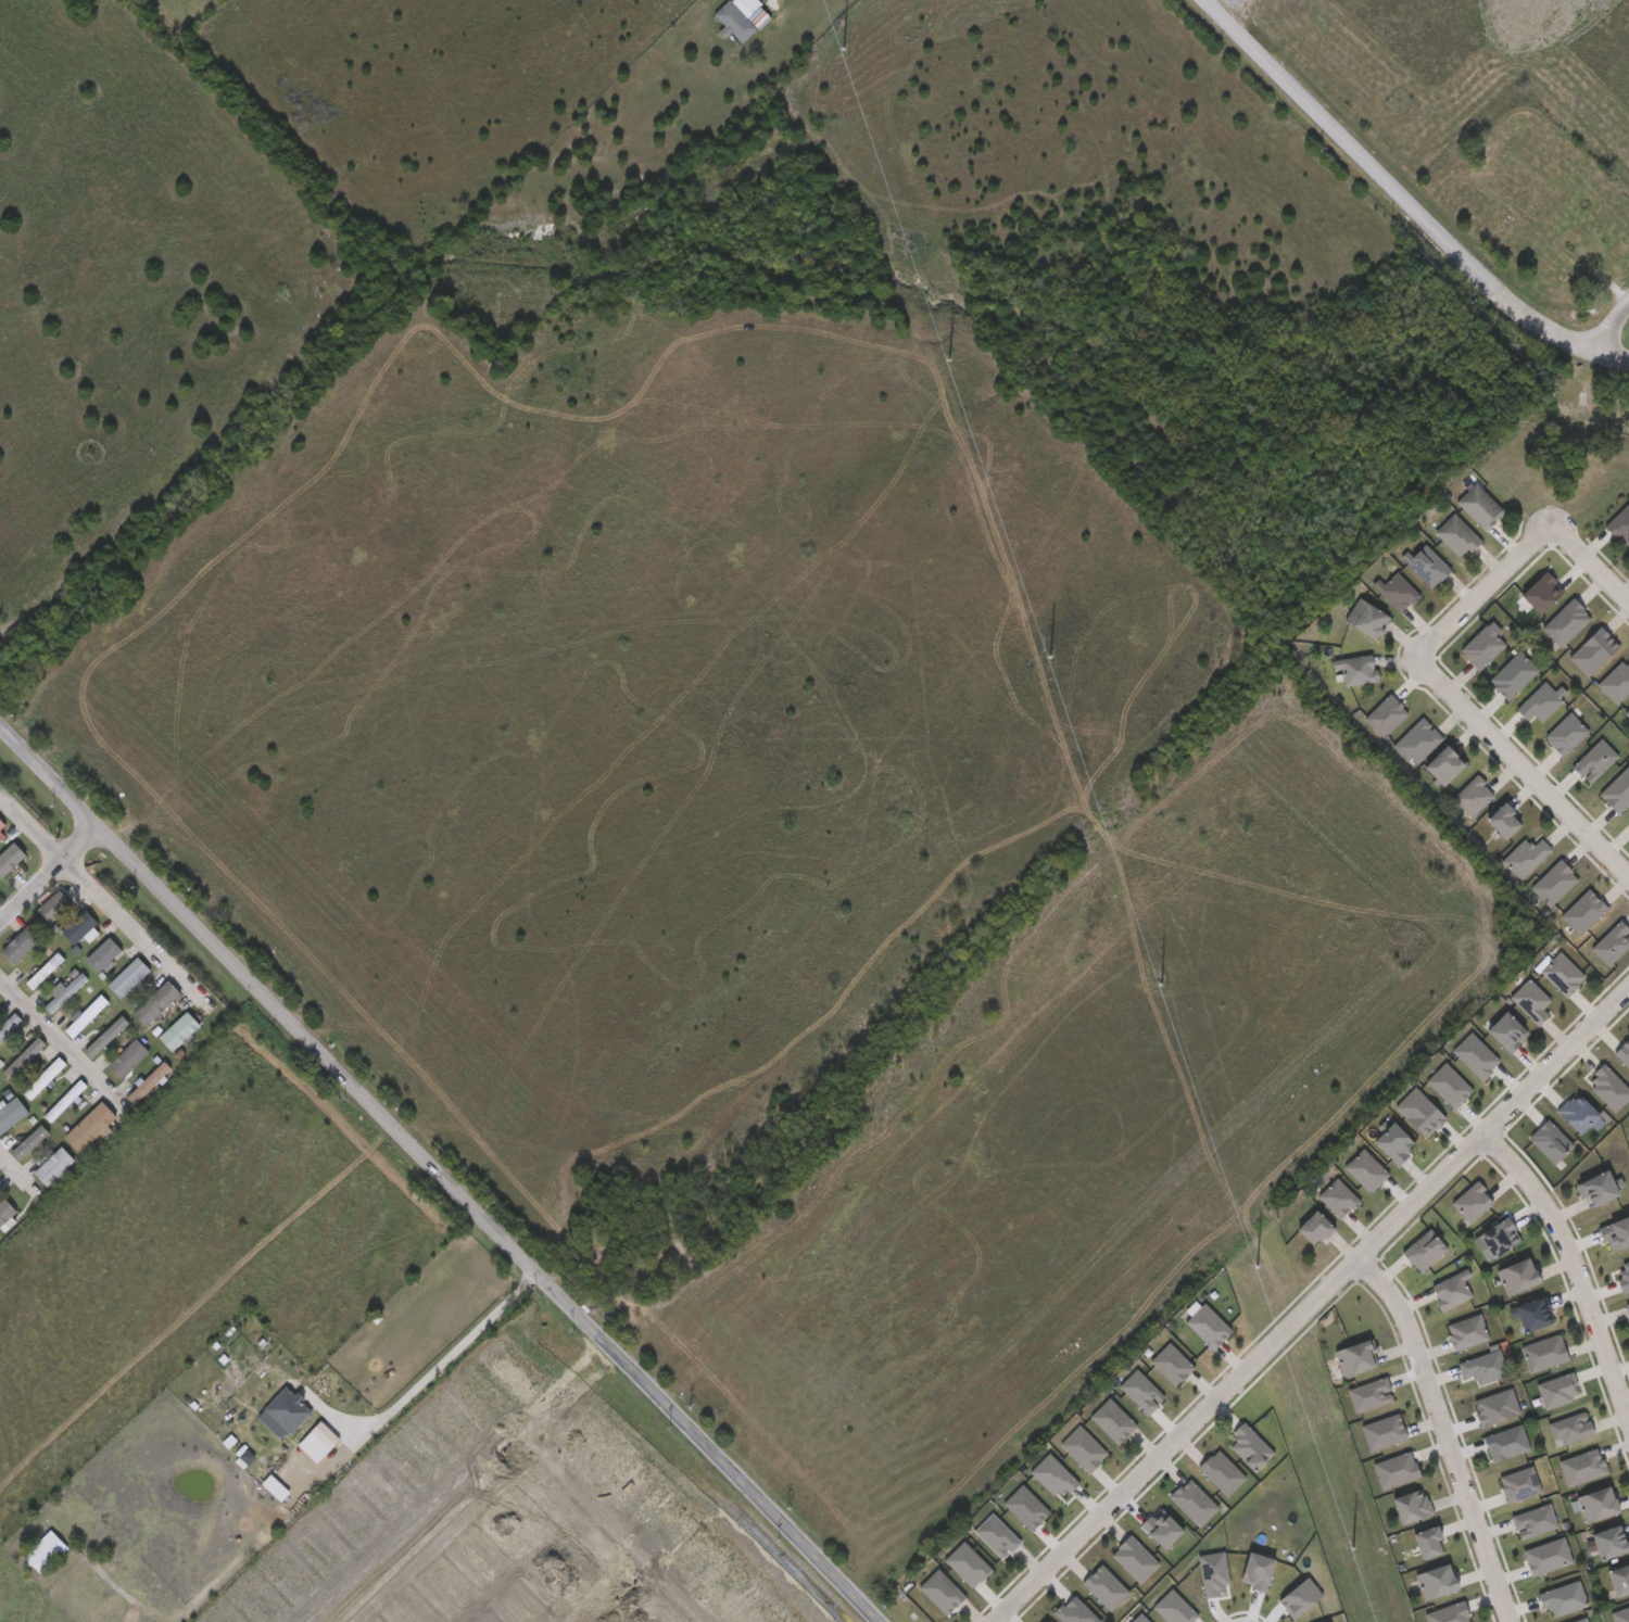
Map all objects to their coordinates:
building: (738, 17)
road: (1387, 186)
road: (1608, 327)
road: (1608, 356)
building: (1479, 505)
building: (1620, 522)
building: (1456, 533)
building: (1427, 563)
road: (1592, 567)
building: (1397, 590)
building: (1540, 591)
road: (1485, 592)
building: (1366, 618)
building: (1567, 622)
building: (1482, 647)
building: (1591, 650)
building: (1356, 668)
building: (1513, 673)
building: (1616, 681)
building: (1541, 700)
building: (1627, 711)
building: (1385, 714)
building: (1628, 717)
building: (1566, 734)
building: (1417, 740)
building: (1596, 759)
building: (1444, 764)
road: (1524, 770)
building: (1620, 787)
building: (1474, 795)
building: (1503, 819)
building: (0, 825)
building: (1, 837)
building: (9, 852)
building: (1525, 856)
road: (48, 874)
building: (1553, 882)
road: (99, 884)
building: (0, 898)
building: (52, 907)
building: (1580, 912)
building: (78, 926)
building: (1612, 942)
building: (18, 945)
building: (101, 955)
building: (36, 972)
building: (1563, 973)
building: (127, 978)
building: (62, 994)
building: (1531, 1000)
building: (0, 1003)
building: (154, 1004)
road: (45, 1013)
building: (85, 1015)
building: (10, 1027)
building: (1506, 1030)
building: (177, 1031)
building: (106, 1037)
building: (1473, 1051)
building: (1624, 1052)
building: (23, 1057)
building: (127, 1059)
building: (45, 1080)
building: (147, 1082)
building: (1447, 1082)
building: (1608, 1086)
building: (66, 1102)
building: (1417, 1108)
building: (1578, 1112)
building: (11, 1115)
building: (89, 1128)
building: (1550, 1140)
building: (1393, 1142)
building: (31, 1145)
road: (10, 1157)
building: (52, 1167)
building: (1366, 1169)
road: (434, 1176)
building: (1596, 1188)
building: (1339, 1198)
building: (1473, 1201)
building: (1314, 1227)
building: (1616, 1232)
building: (1499, 1237)
building: (1424, 1249)
road: (1574, 1267)
building: (1517, 1275)
building: (1624, 1277)
building: (1452, 1289)
road: (1312, 1306)
building: (1627, 1306)
building: (1533, 1313)
building: (1207, 1322)
building: (1466, 1330)
building: (1355, 1356)
building: (1170, 1360)
building: (1483, 1366)
building: (1138, 1390)
road: (409, 1392)
building: (1369, 1392)
road: (544, 1415)
building: (1113, 1420)
building: (1386, 1430)
road: (1447, 1434)
building: (1506, 1442)
building: (1250, 1445)
building: (1081, 1447)
building: (1396, 1468)
building: (1220, 1470)
building: (1053, 1473)
building: (1191, 1499)
building: (1598, 1503)
building: (1412, 1504)
building: (1026, 1505)
building: (1159, 1526)
building: (997, 1535)
road: (579, 1538)
building: (1611, 1539)
building: (1428, 1541)
building: (42, 1555)
building: (1548, 1555)
building: (1134, 1556)
building: (967, 1562)
road: (235, 1563)
building: (1618, 1576)
building: (1436, 1579)
building: (1104, 1586)
building: (942, 1591)
building: (1563, 1597)
building: (1074, 1610)
road: (624, 1611)
building: (1580, 1620)
building: (1043, 1621)

